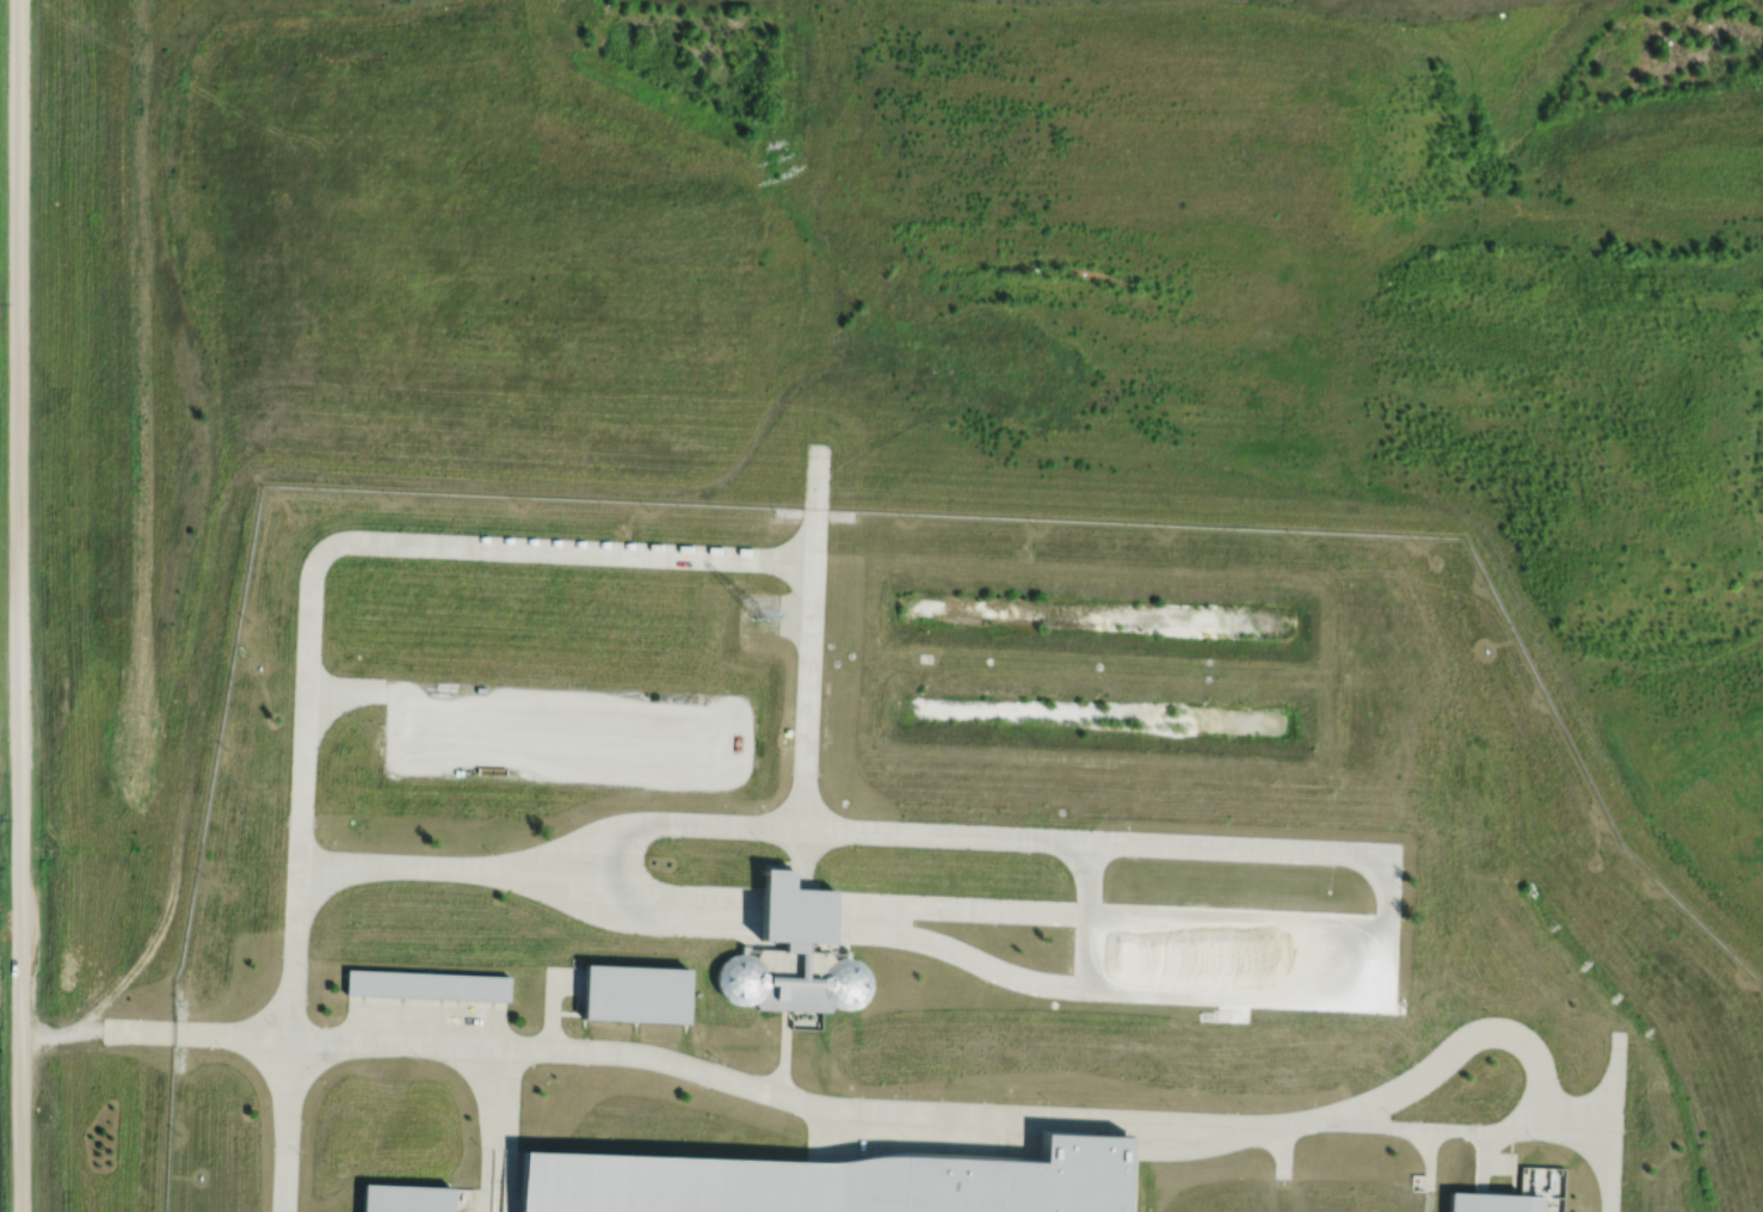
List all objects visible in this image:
road: (818, 504)
road: (499, 546)
road: (814, 591)
road: (23, 605)
road: (796, 619)
road: (335, 689)
road: (375, 690)
road: (406, 697)
road: (321, 718)
road: (808, 724)
road: (726, 757)
road: (303, 776)
road: (715, 824)
road: (948, 835)
road: (1278, 849)
road: (557, 857)
road: (802, 857)
road: (326, 866)
road: (615, 866)
road: (418, 868)
road: (1091, 878)
road: (555, 881)
road: (316, 891)
building: (796, 905)
road: (962, 909)
road: (695, 911)
road: (1239, 921)
road: (690, 925)
building: (796, 941)
road: (1089, 950)
road: (296, 952)
road: (961, 953)
building: (742, 977)
building: (795, 977)
building: (429, 983)
building: (847, 984)
building: (637, 991)
road: (1272, 996)
road: (553, 997)
road: (63, 1032)
road: (198, 1033)
road: (1459, 1048)
road: (563, 1050)
road: (784, 1052)
road: (1619, 1085)
road: (1056, 1111)
road: (847, 1113)
road: (288, 1125)
road: (1054, 1125)
road: (486, 1128)
road: (1263, 1128)
road: (511, 1130)
road: (1451, 1130)
road: (956, 1134)
road: (825, 1136)
road: (1186, 1146)
road: (1484, 1148)
road: (1284, 1149)
road: (1432, 1159)
road: (1498, 1164)
road: (1615, 1175)
road: (1482, 1177)
road: (1135, 1179)
building: (837, 1181)
building: (407, 1196)
road: (1430, 1201)
building: (1498, 1201)

